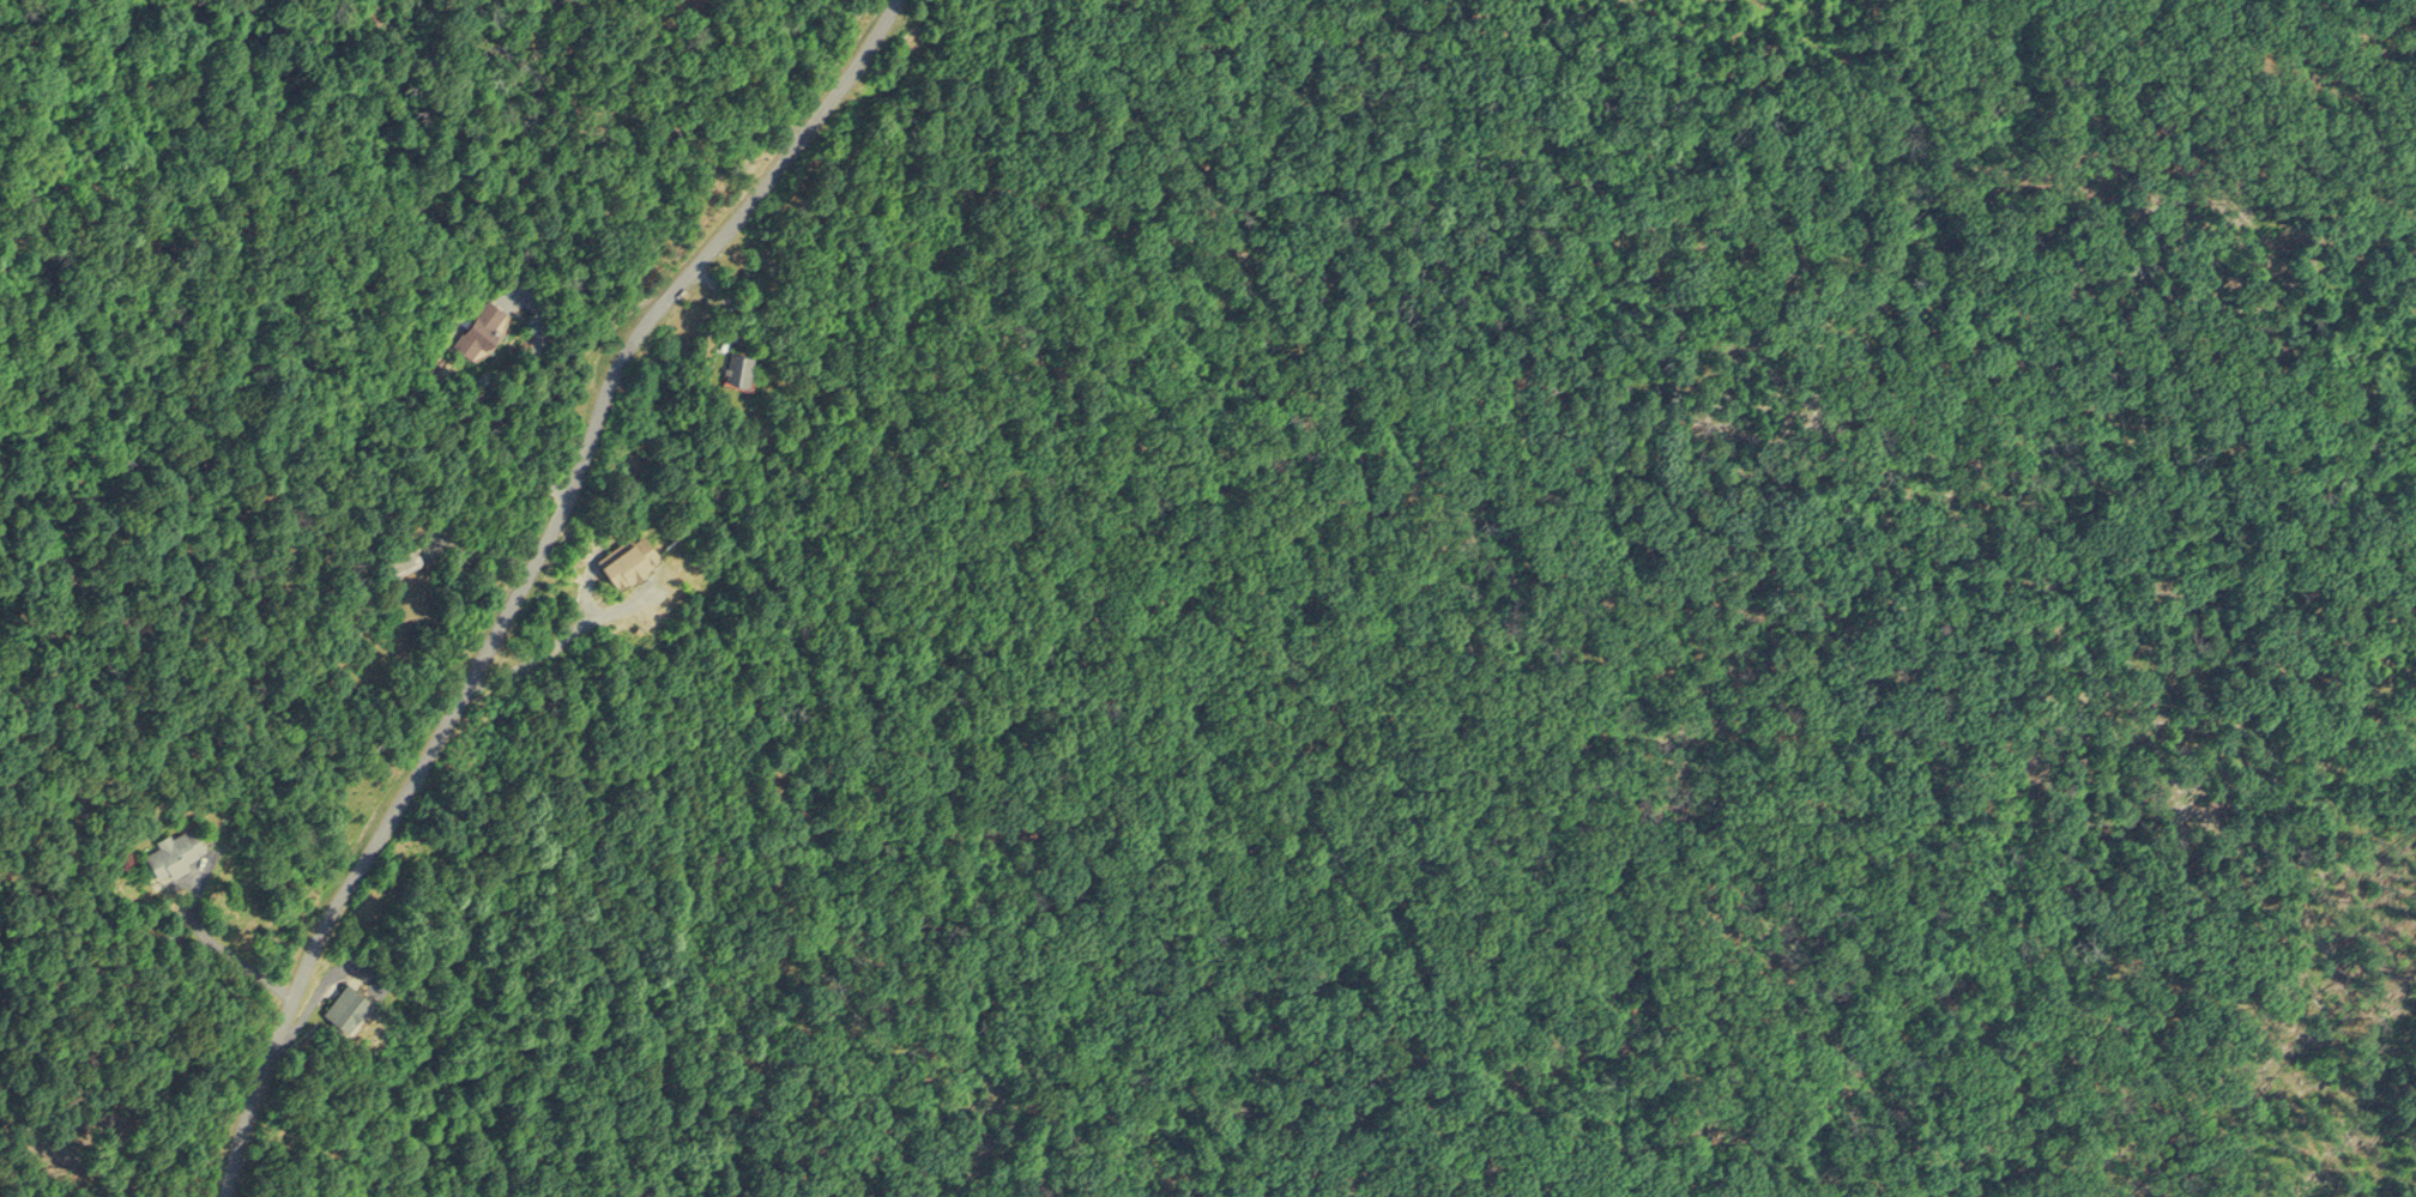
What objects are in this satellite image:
building: (737, 363)
road: (512, 389)
building: (398, 554)
building: (627, 556)
road: (512, 576)
road: (548, 648)
building: (173, 850)
road: (221, 942)
building: (345, 1003)

